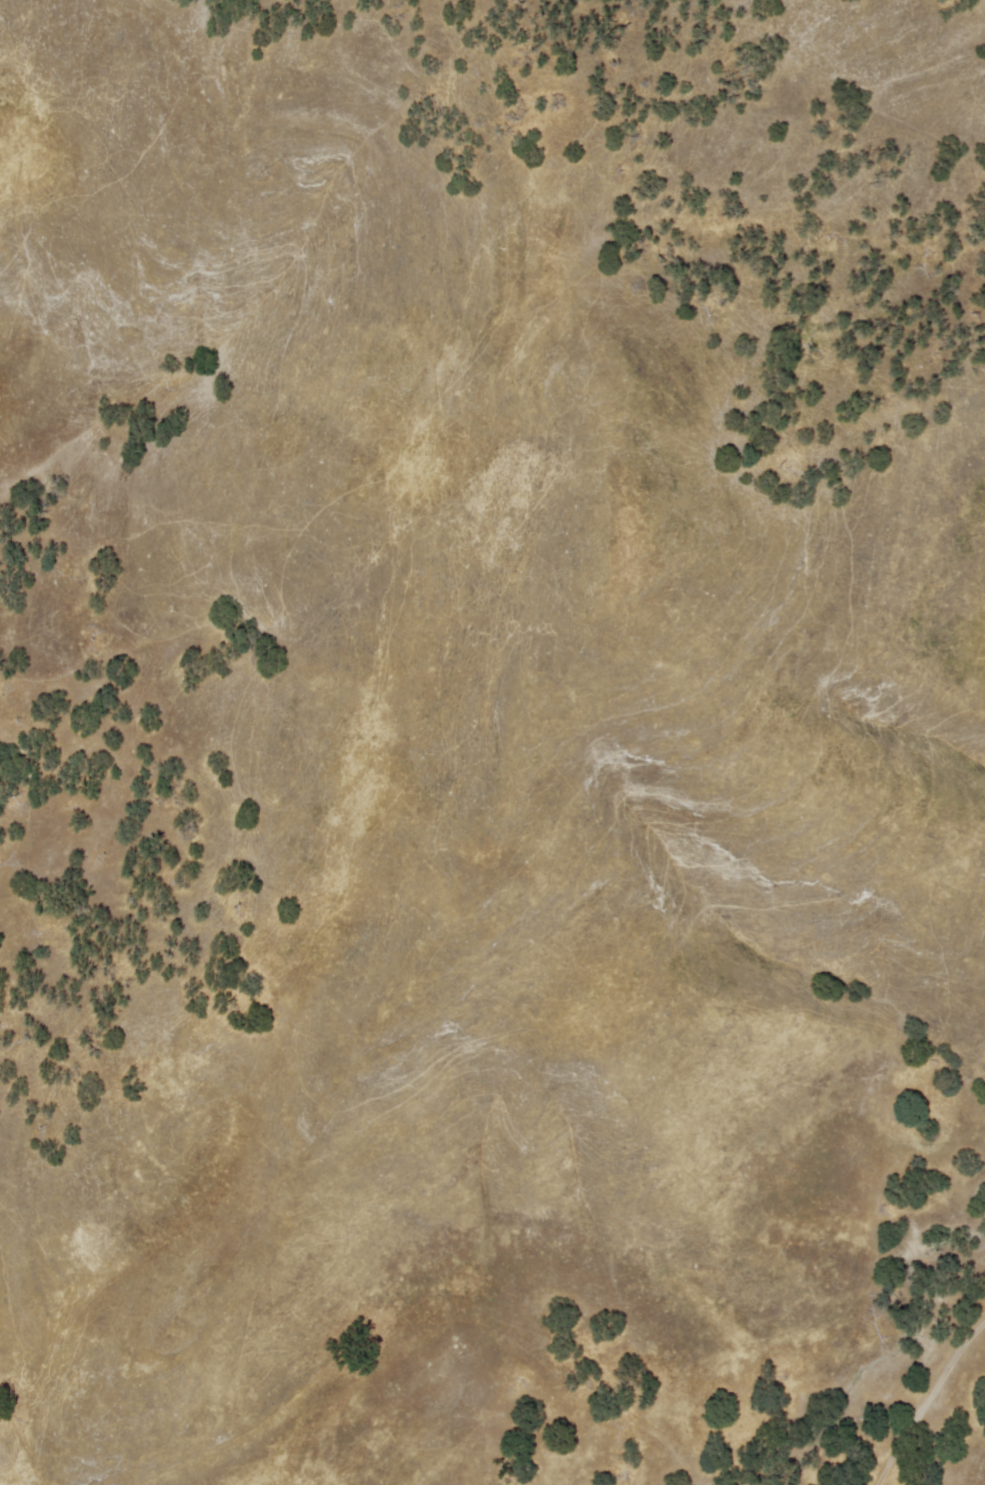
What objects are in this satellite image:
road: (927, 1399)

